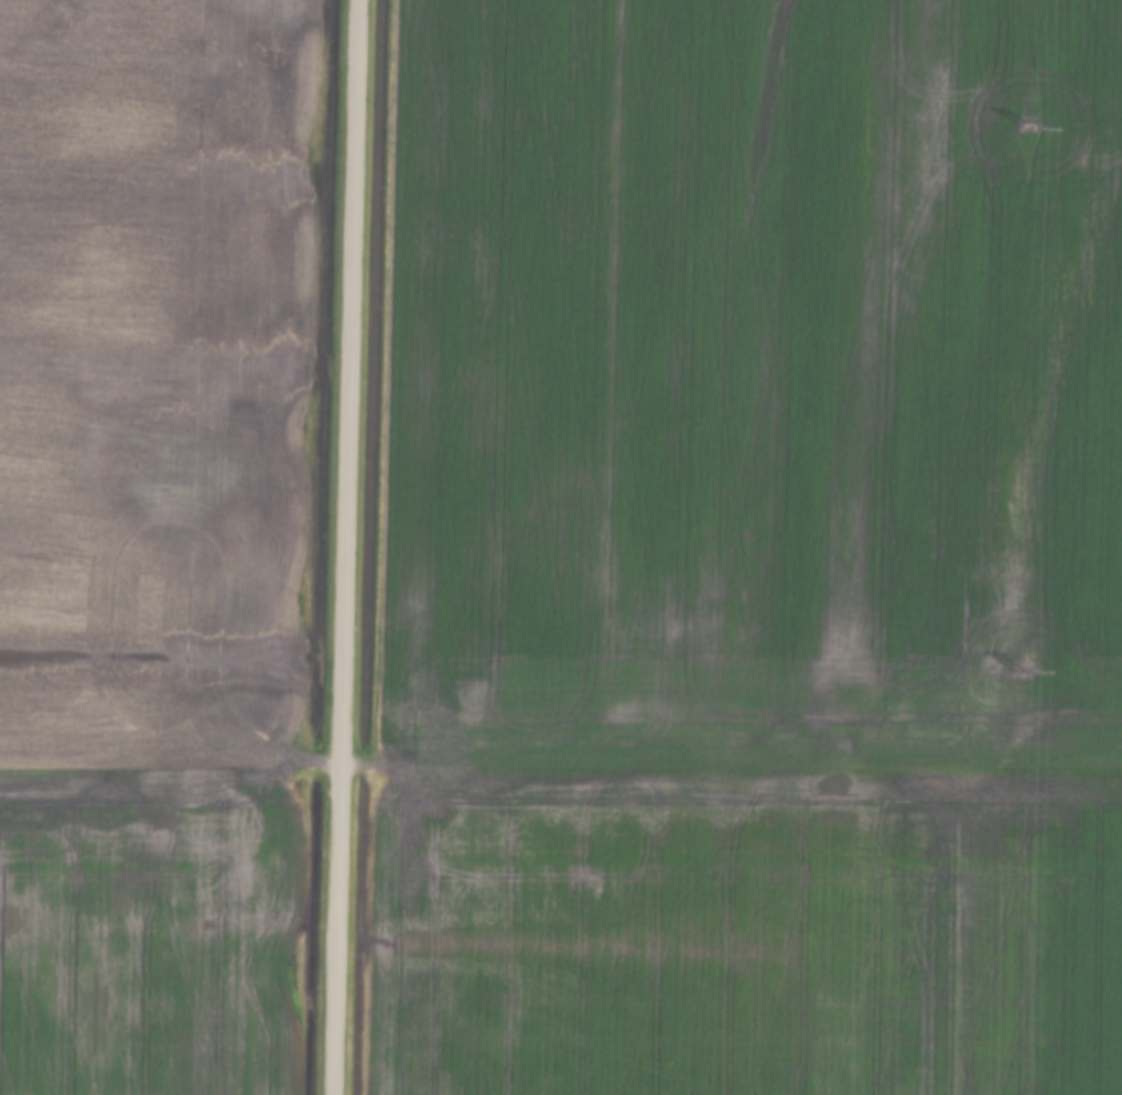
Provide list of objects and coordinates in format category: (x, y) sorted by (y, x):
power tower: (1026, 116)
crop: (157, 372)
crop: (752, 381)
road: (342, 547)
power tower: (1022, 670)
crop: (144, 925)
crop: (744, 928)

